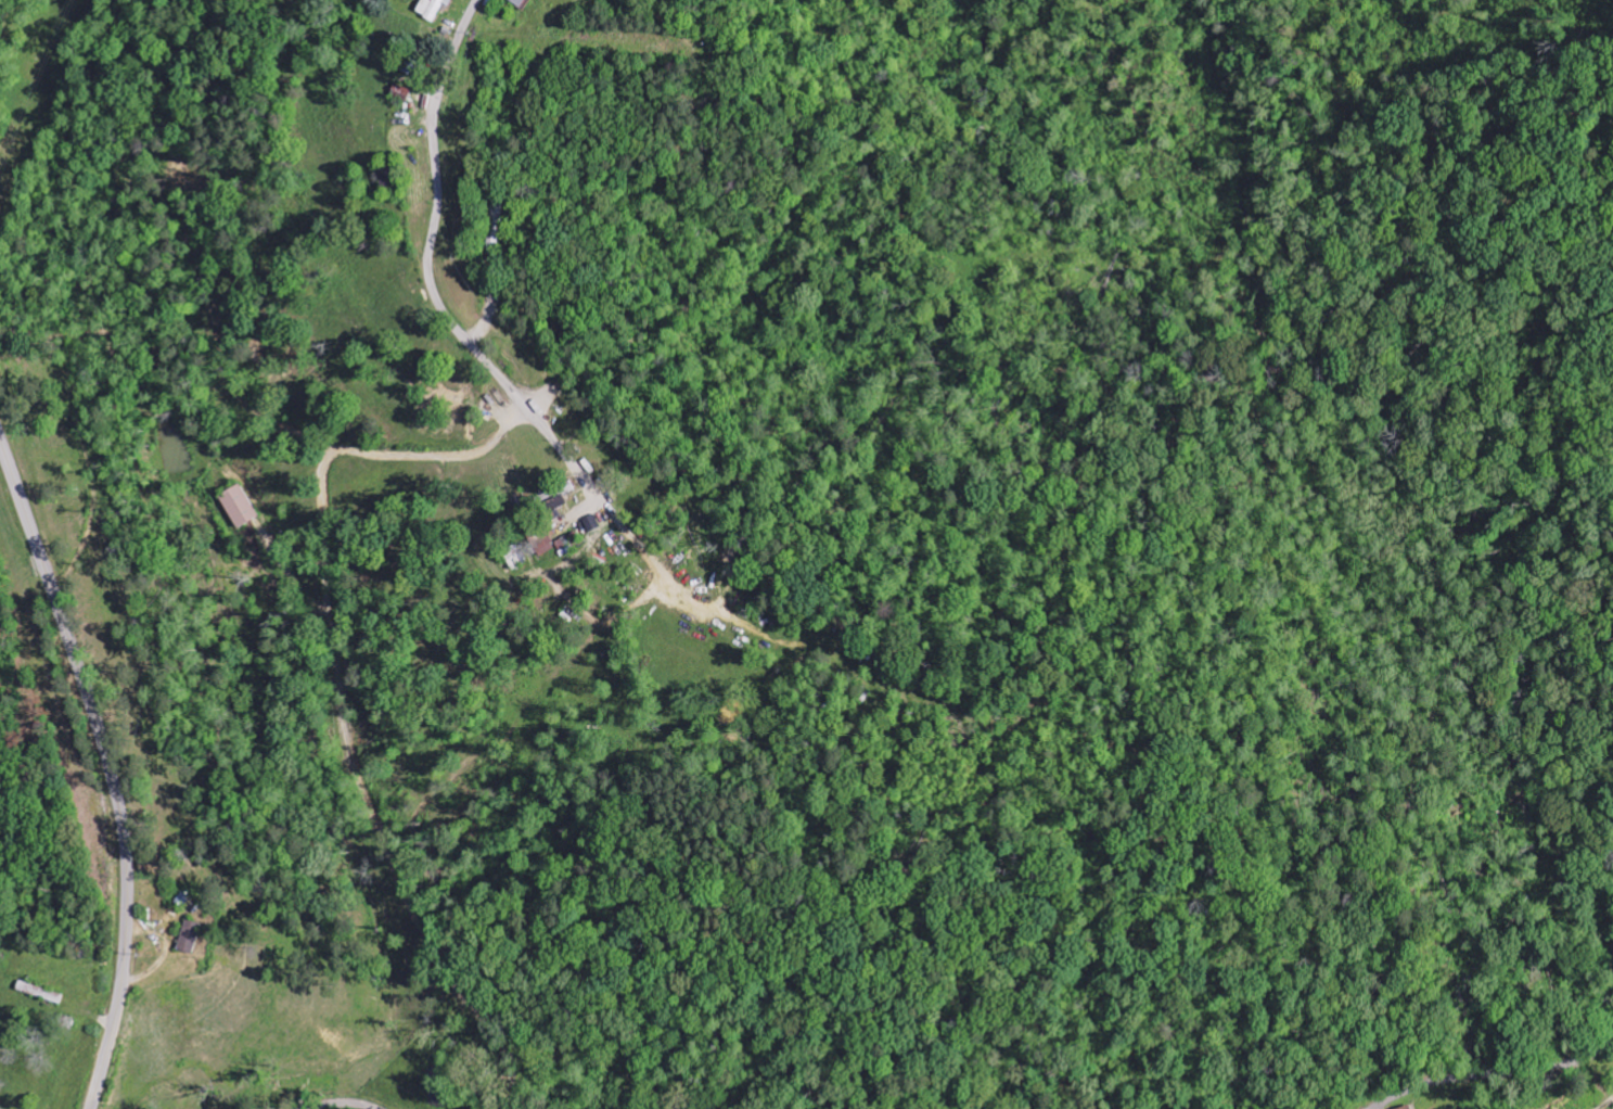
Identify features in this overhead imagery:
building: (519, 2)
building: (431, 9)
road: (436, 197)
building: (556, 503)
building: (239, 506)
road: (110, 767)
building: (191, 936)
road: (1492, 1073)
road: (341, 1102)
building: (1408, 1108)

